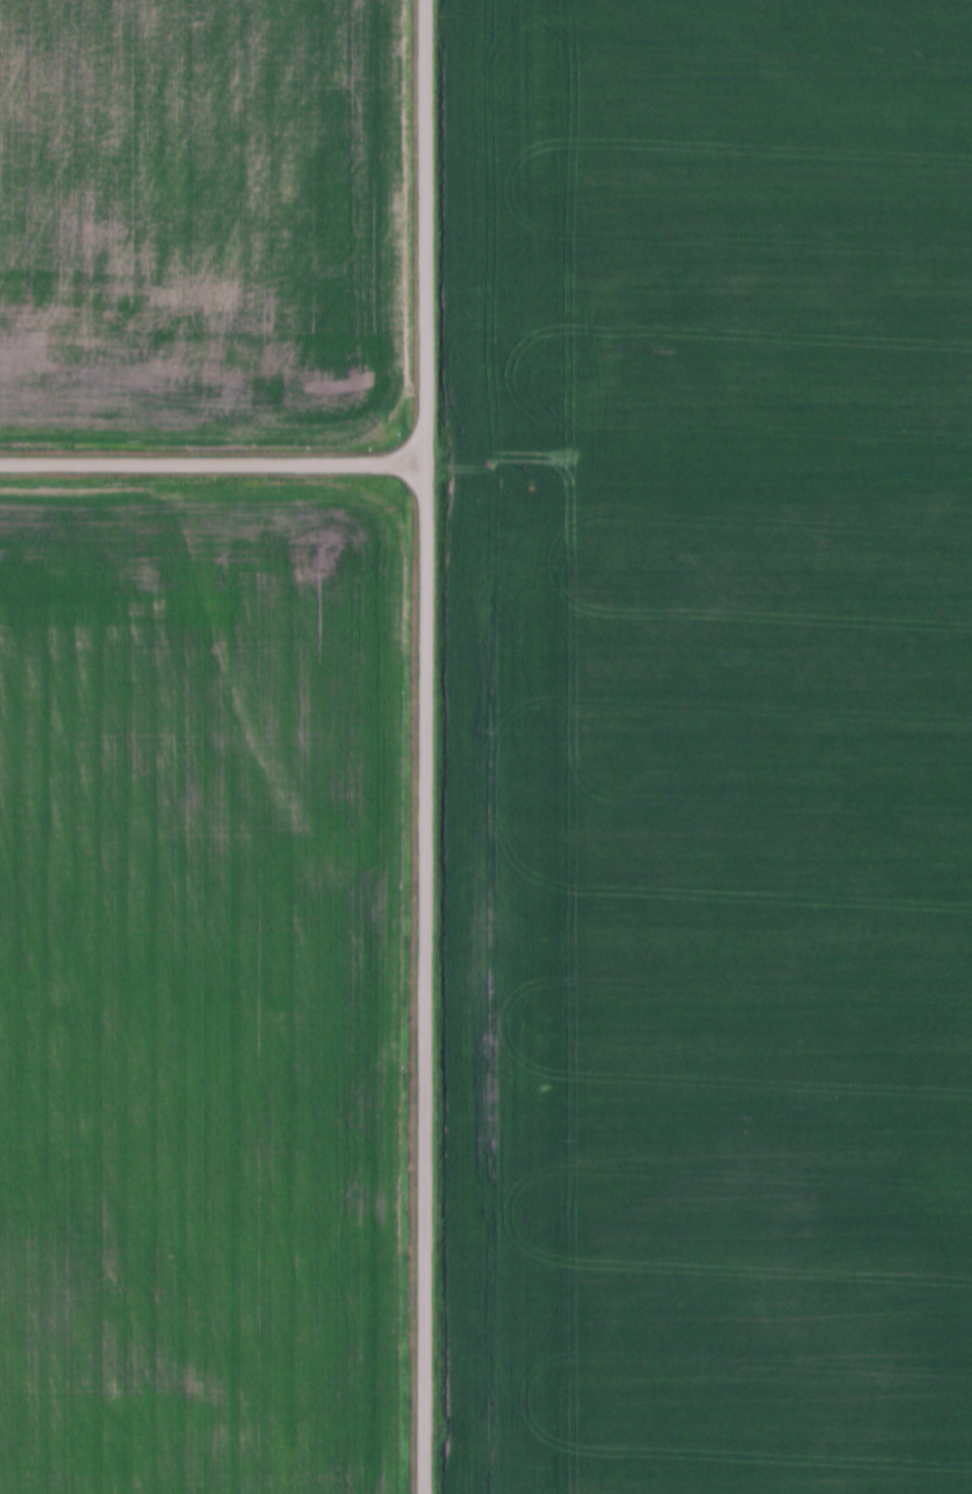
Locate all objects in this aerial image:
road: (214, 461)
road: (429, 746)

